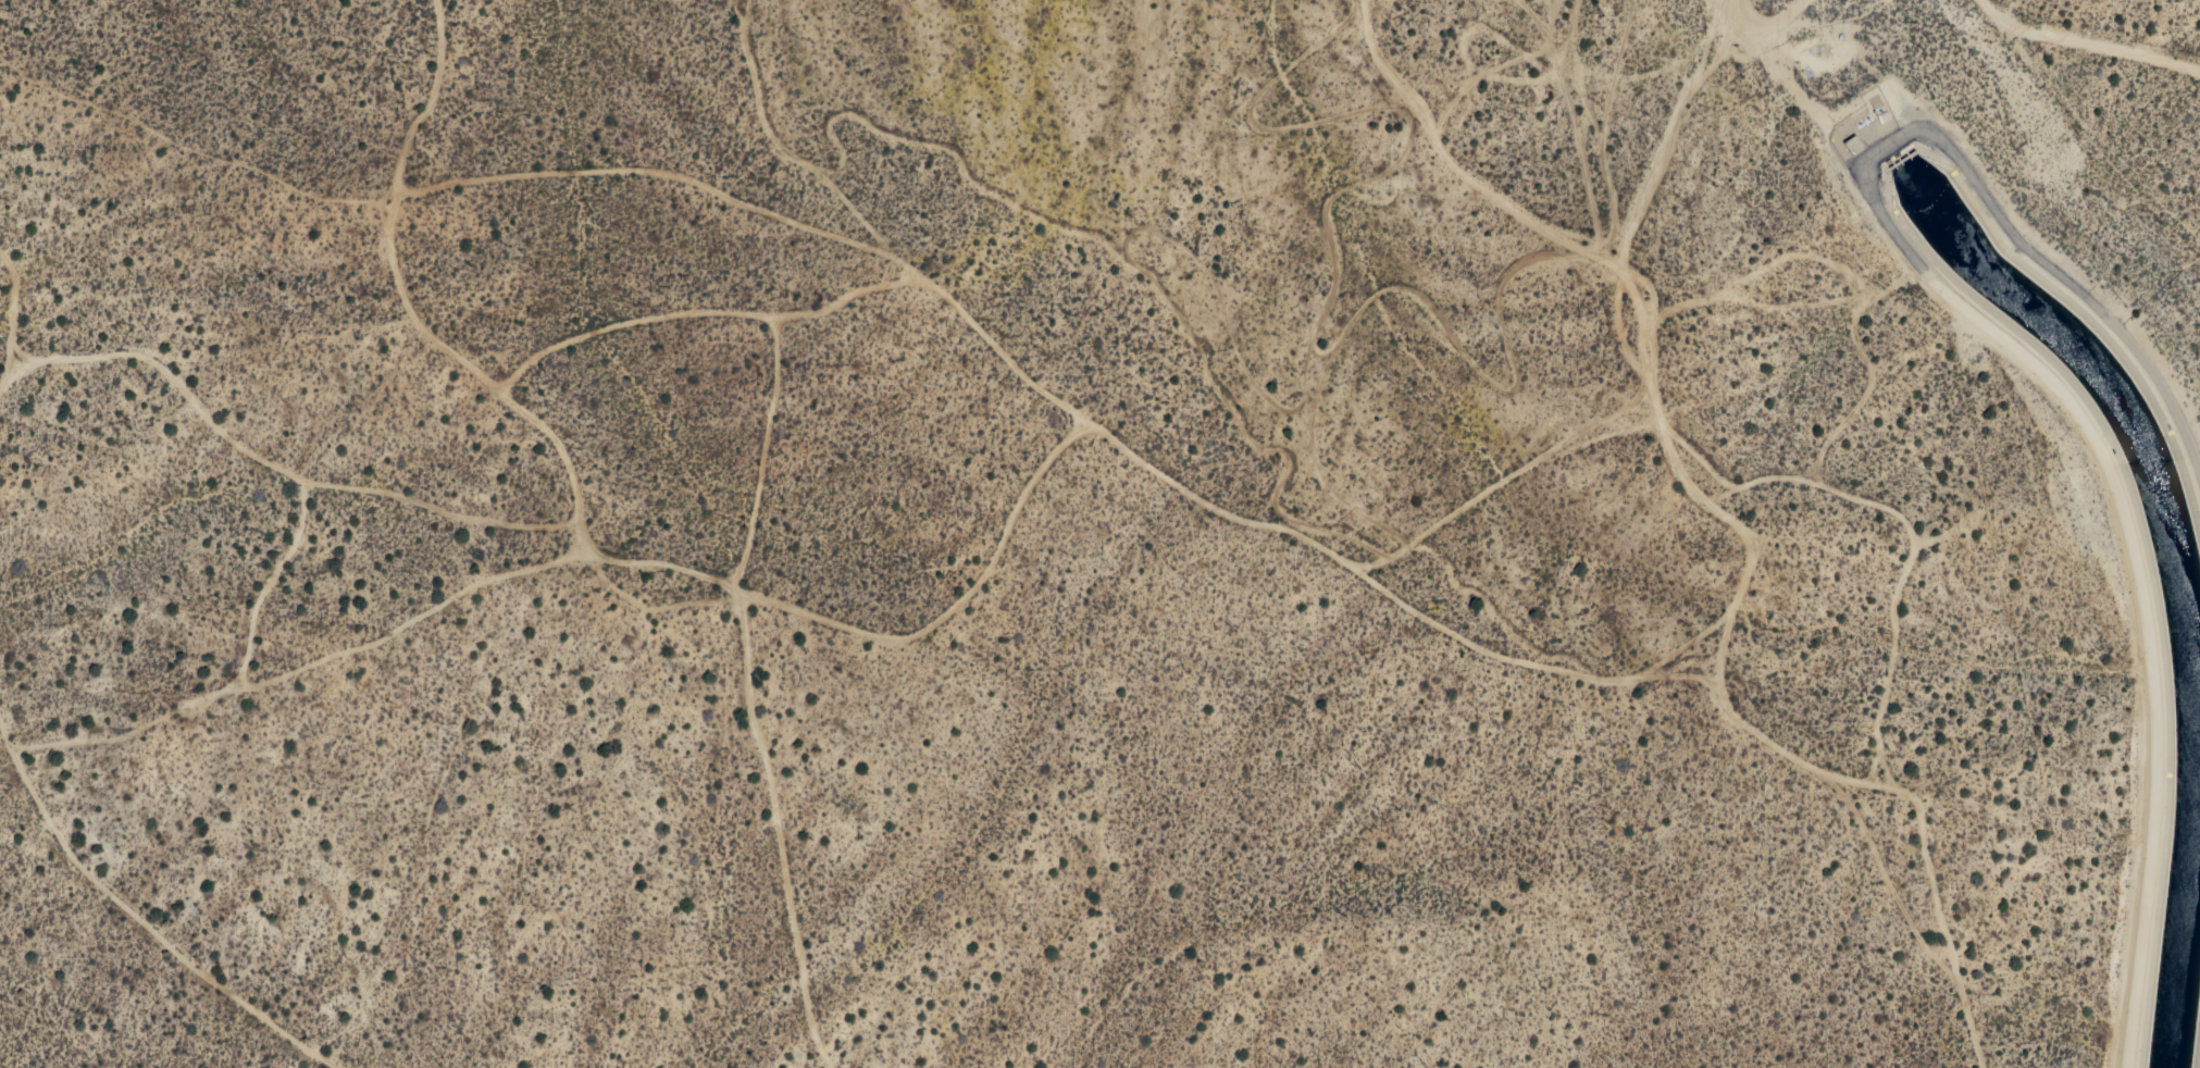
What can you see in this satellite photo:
road: (1764, 26)
road: (2085, 44)
building: (1877, 108)
building: (1852, 144)

